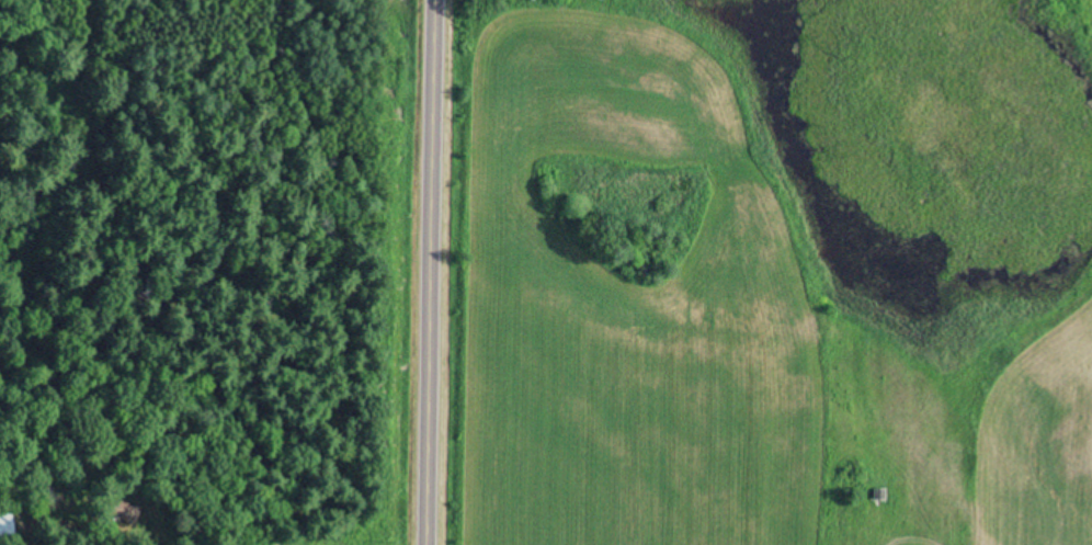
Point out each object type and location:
road: (430, 272)
building: (118, 513)
building: (5, 527)

